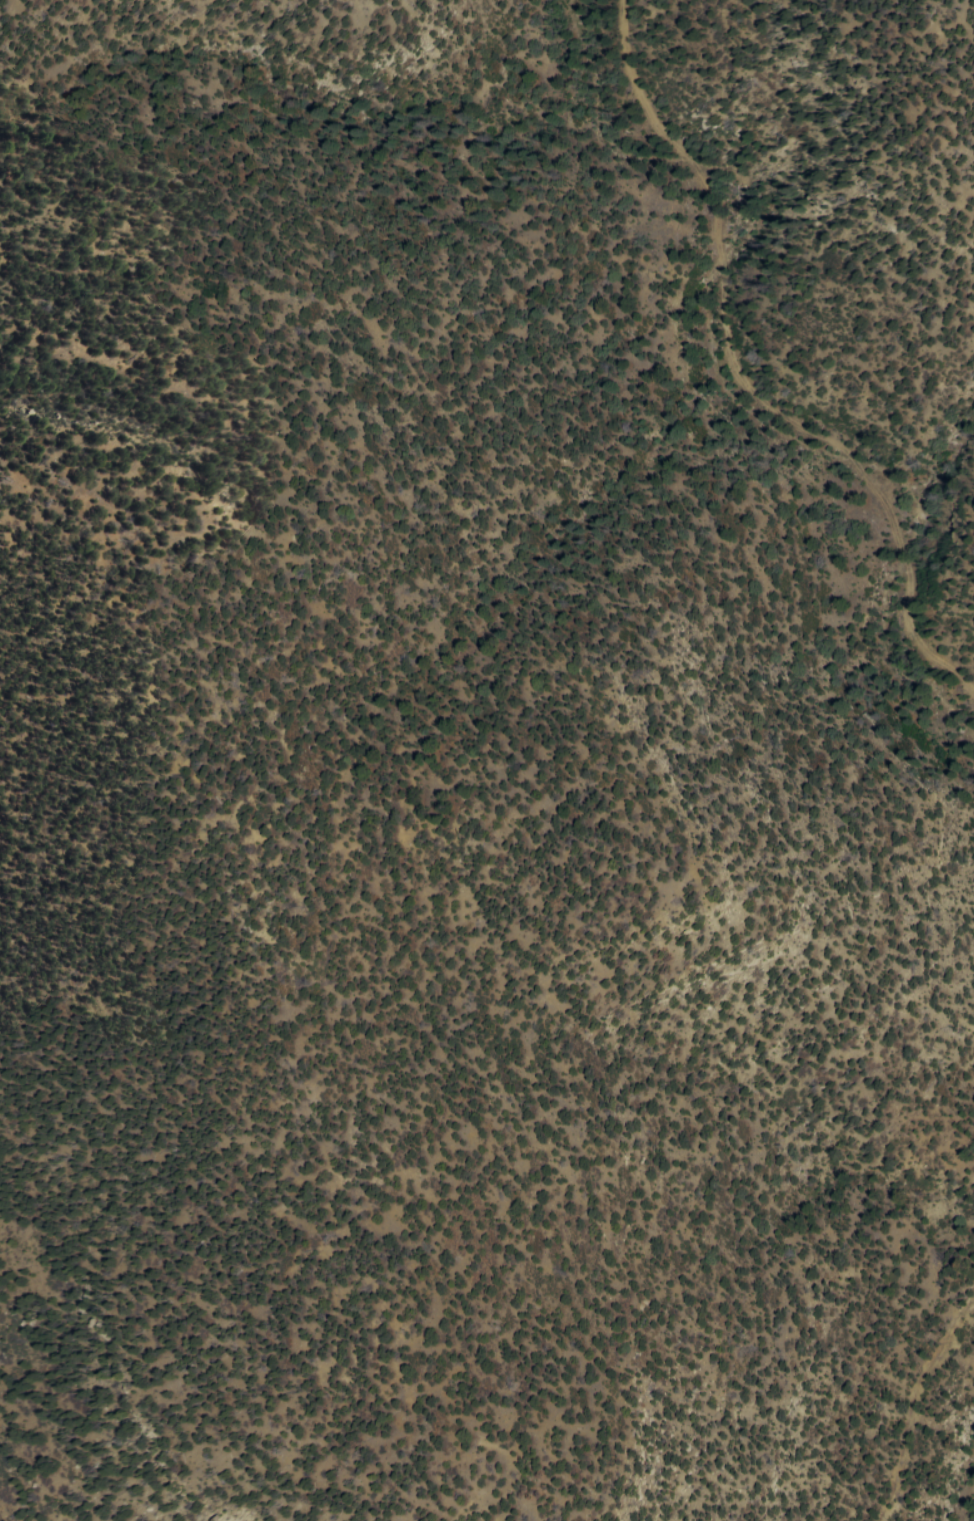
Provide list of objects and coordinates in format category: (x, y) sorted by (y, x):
road: (734, 381)

